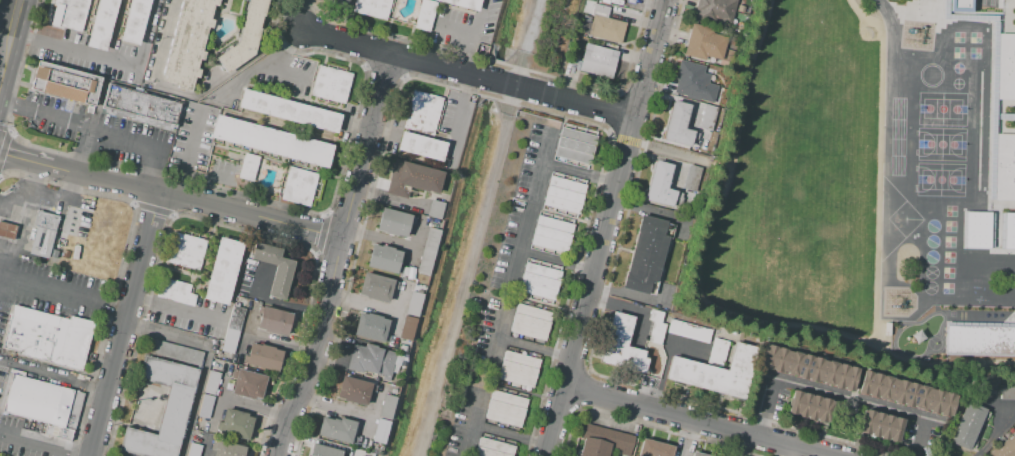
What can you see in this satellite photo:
building: (341, 1)
building: (290, 2)
building: (465, 3)
building: (959, 4)
building: (372, 7)
building: (715, 9)
building: (68, 14)
building: (424, 14)
road: (306, 15)
road: (1007, 15)
road: (962, 16)
road: (997, 16)
building: (134, 20)
road: (891, 22)
building: (101, 24)
road: (453, 30)
building: (606, 30)
road: (9, 34)
road: (470, 34)
building: (245, 36)
road: (347, 41)
building: (705, 42)
building: (188, 43)
road: (105, 59)
building: (597, 60)
road: (265, 61)
building: (1006, 67)
road: (282, 72)
building: (694, 82)
road: (746, 82)
building: (64, 83)
building: (330, 84)
road: (510, 85)
road: (210, 87)
building: (140, 107)
park: (941, 108)
building: (289, 111)
building: (423, 111)
road: (993, 111)
road: (614, 112)
road: (1004, 115)
building: (707, 117)
road: (457, 118)
building: (678, 125)
road: (100, 129)
road: (610, 135)
track: (896, 136)
road: (625, 140)
building: (271, 141)
park: (940, 144)
road: (365, 145)
building: (422, 146)
building: (575, 146)
road: (82, 149)
road: (188, 153)
road: (681, 155)
building: (247, 167)
building: (1005, 167)
road: (579, 171)
road: (212, 178)
building: (692, 178)
building: (412, 179)
park: (939, 179)
building: (660, 185)
building: (298, 187)
building: (564, 194)
road: (170, 195)
road: (389, 199)
road: (1003, 204)
road: (531, 205)
road: (13, 210)
building: (435, 210)
park: (894, 219)
building: (394, 223)
road: (23, 225)
park: (931, 225)
road: (602, 227)
building: (976, 229)
building: (1008, 230)
building: (6, 231)
gas station: (6, 231)
building: (43, 234)
building: (552, 234)
road: (379, 237)
road: (995, 237)
park: (931, 241)
road: (414, 247)
building: (186, 250)
building: (428, 251)
building: (645, 254)
park: (930, 256)
building: (383, 258)
building: (275, 269)
building: (223, 271)
park: (930, 272)
building: (539, 281)
building: (376, 286)
park: (929, 287)
building: (174, 291)
road: (58, 293)
road: (273, 302)
road: (362, 304)
building: (414, 304)
road: (175, 310)
road: (396, 313)
building: (274, 322)
road: (790, 322)
building: (529, 323)
road: (121, 324)
building: (371, 326)
building: (655, 326)
building: (408, 328)
road: (245, 331)
building: (688, 331)
road: (497, 334)
track: (919, 336)
building: (48, 338)
building: (978, 339)
road: (278, 342)
building: (622, 345)
road: (532, 347)
road: (312, 348)
building: (174, 352)
building: (718, 352)
road: (206, 357)
building: (264, 357)
building: (371, 361)
road: (664, 364)
building: (808, 367)
building: (518, 369)
building: (716, 372)
road: (52, 374)
building: (210, 382)
building: (248, 385)
building: (353, 390)
building: (1007, 393)
building: (906, 394)
road: (839, 396)
road: (220, 398)
building: (36, 401)
building: (204, 406)
building: (387, 407)
building: (808, 407)
road: (334, 408)
building: (163, 409)
road: (254, 409)
building: (505, 409)
road: (368, 418)
road: (693, 421)
road: (471, 422)
building: (235, 424)
building: (879, 426)
building: (967, 426)
building: (337, 429)
building: (381, 431)
road: (995, 433)
road: (508, 435)
road: (687, 438)
building: (603, 441)
road: (39, 444)
road: (740, 445)
building: (493, 448)
building: (1005, 448)
building: (192, 449)
building: (228, 449)
building: (654, 449)
road: (208, 450)
road: (778, 450)
building: (323, 451)
building: (698, 454)
building: (121, 455)

